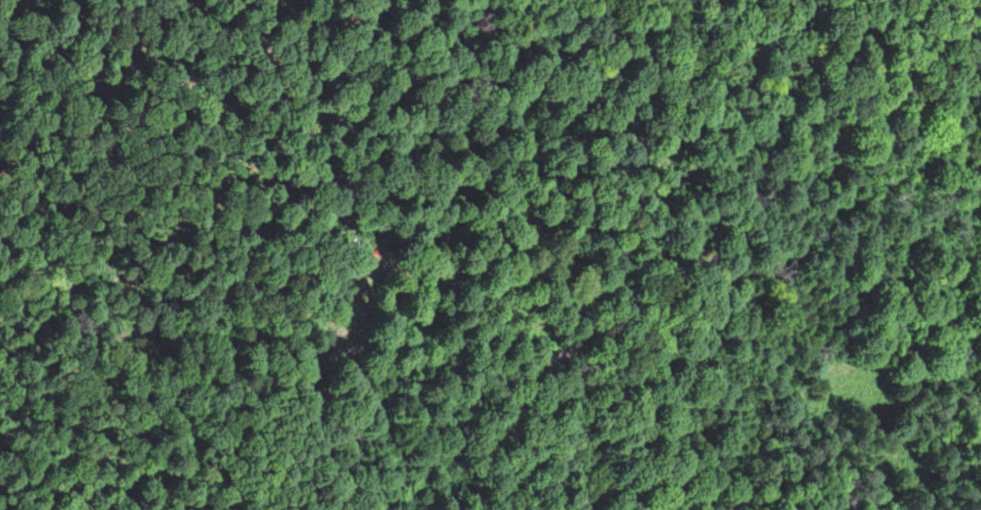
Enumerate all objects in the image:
road: (829, 190)
road: (602, 302)

